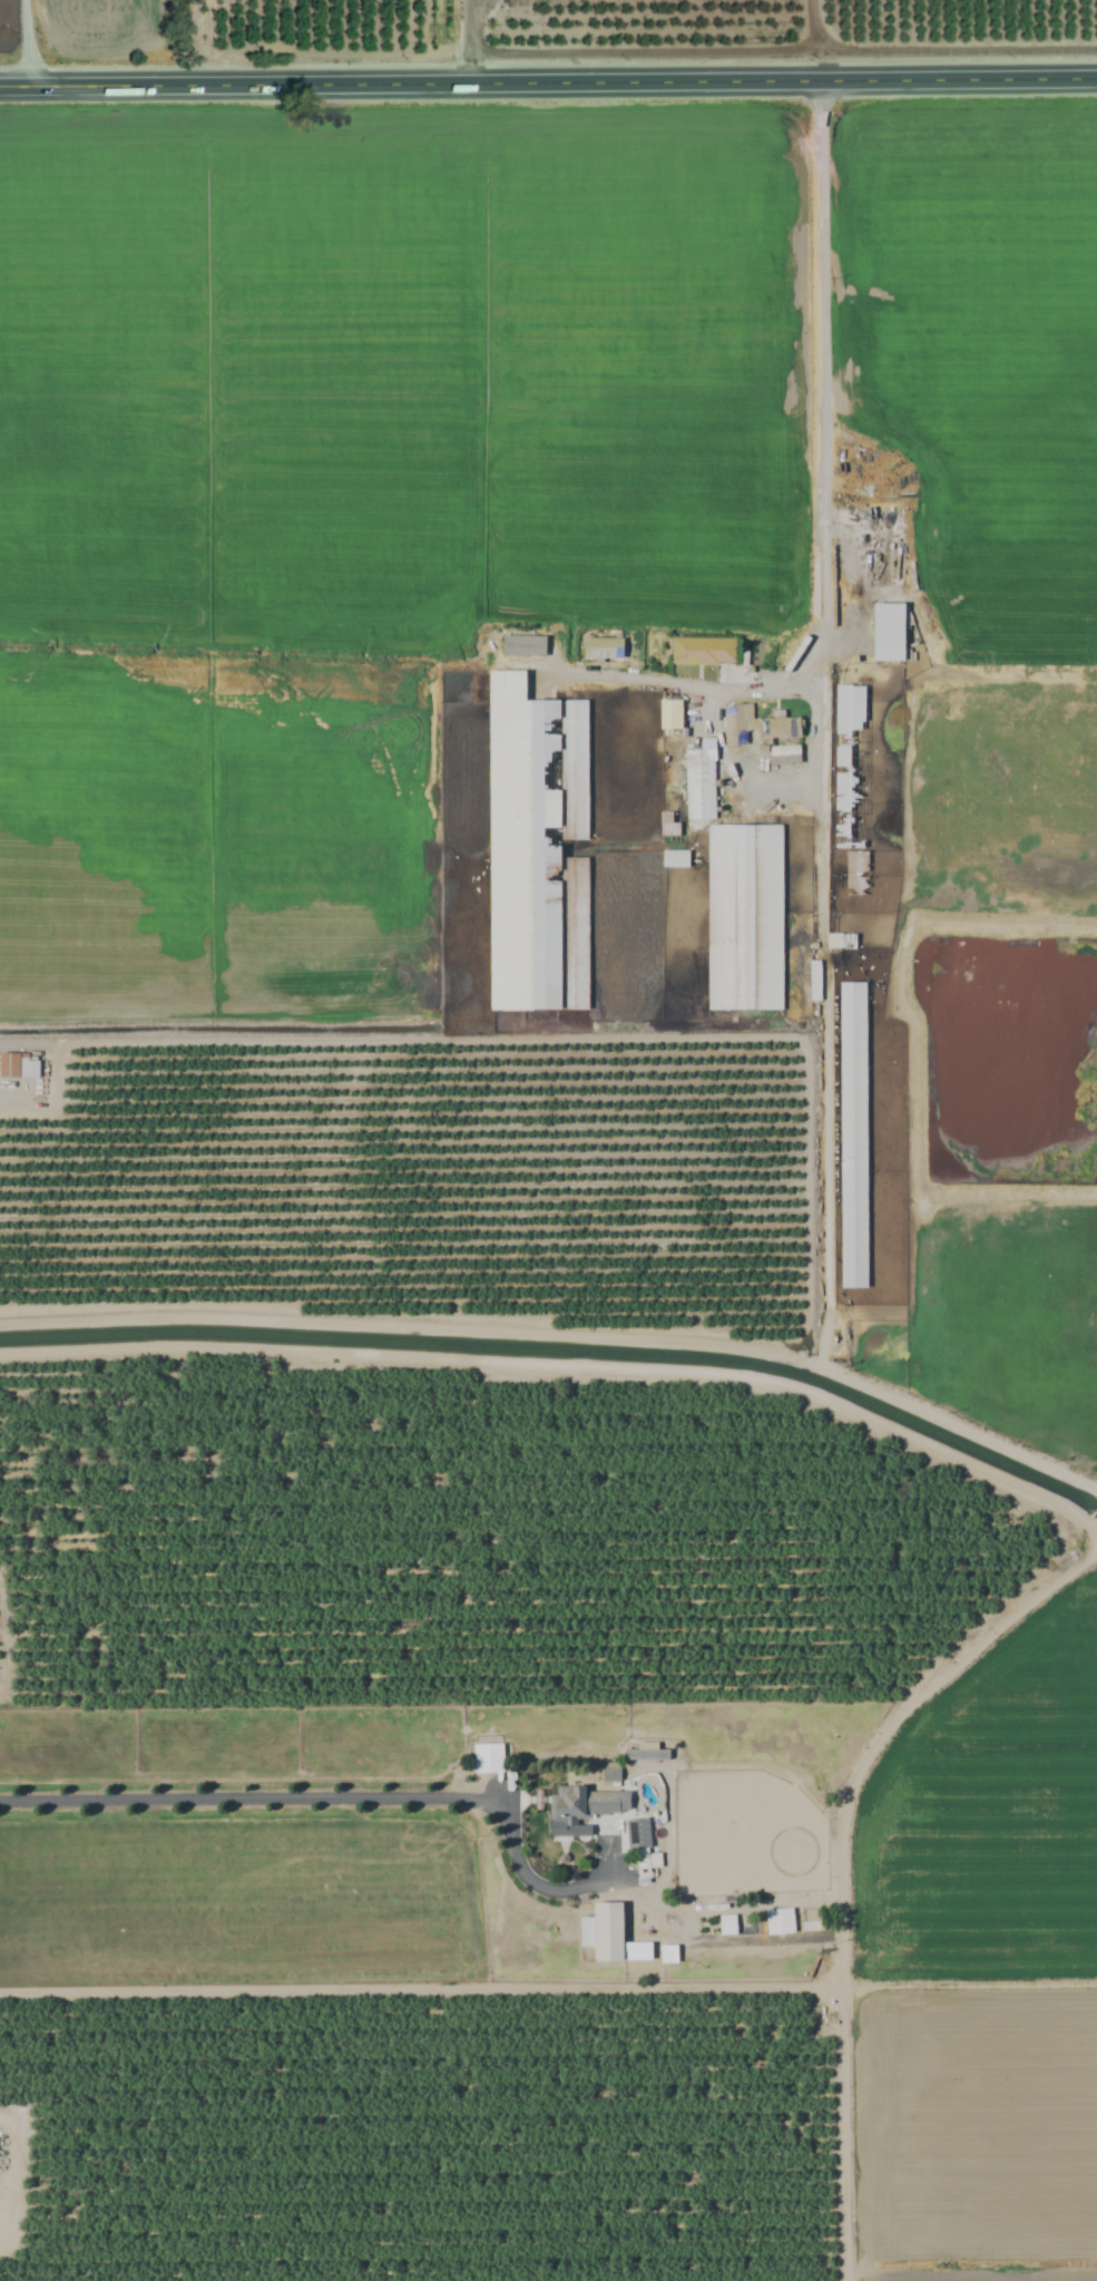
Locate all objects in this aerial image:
road: (471, 40)
road: (27, 41)
road: (548, 80)
road: (824, 507)
building: (889, 633)
building: (523, 646)
building: (603, 650)
building: (703, 652)
building: (757, 727)
building: (849, 767)
road: (732, 770)
building: (699, 786)
building: (537, 849)
building: (856, 874)
building: (744, 918)
building: (18, 1066)
road: (17, 1096)
building: (10, 1127)
building: (853, 1135)
road: (761, 1352)
road: (1093, 1541)
road: (1000, 1621)
road: (340, 1796)
building: (585, 1807)
building: (639, 1850)
building: (778, 1924)
building: (604, 1932)

